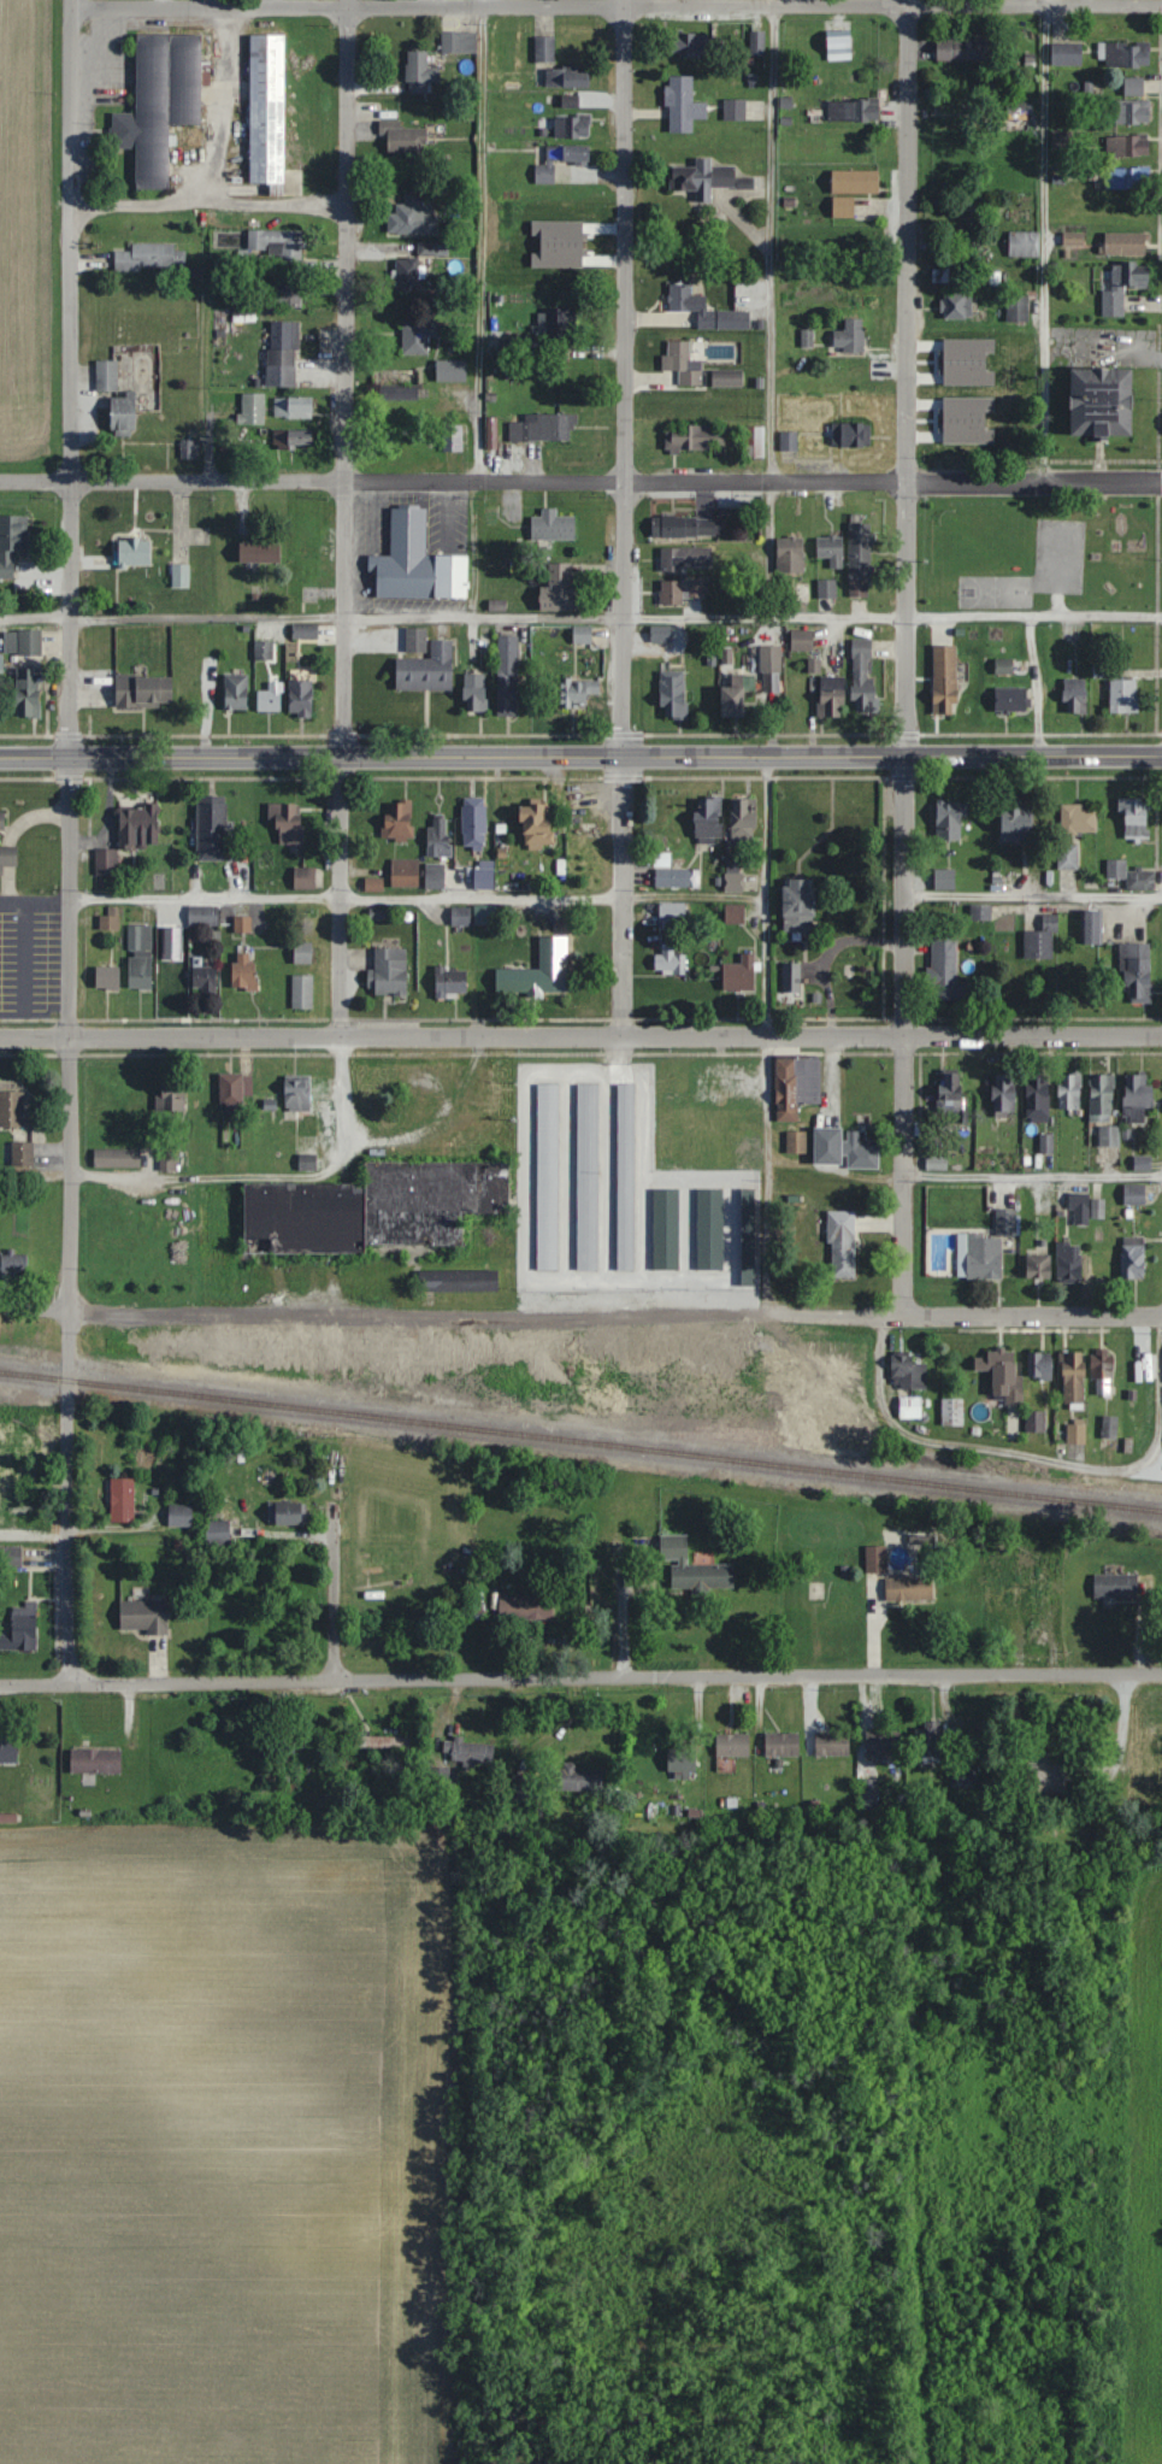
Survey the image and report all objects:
road: (210, 2)
road: (615, 6)
building: (459, 42)
building: (686, 43)
building: (544, 48)
building: (966, 49)
building: (1066, 54)
building: (1126, 54)
building: (419, 72)
building: (567, 78)
building: (1134, 87)
building: (571, 100)
building: (160, 102)
road: (220, 105)
building: (683, 105)
building: (267, 108)
building: (735, 110)
building: (853, 110)
building: (1132, 112)
building: (1018, 114)
building: (572, 127)
building: (403, 139)
building: (1061, 140)
building: (1127, 146)
building: (559, 161)
building: (706, 178)
building: (1127, 178)
building: (855, 181)
road: (208, 205)
building: (843, 207)
building: (412, 216)
building: (845, 236)
road: (480, 240)
road: (775, 241)
road: (1039, 241)
building: (1073, 241)
building: (278, 243)
building: (1024, 243)
building: (1125, 243)
building: (566, 249)
building: (152, 258)
building: (948, 272)
building: (407, 275)
building: (1122, 286)
building: (284, 292)
building: (686, 302)
building: (957, 306)
building: (1016, 308)
building: (560, 324)
building: (418, 336)
building: (850, 336)
building: (521, 346)
building: (722, 351)
building: (282, 353)
building: (683, 363)
building: (452, 371)
building: (106, 376)
road: (71, 377)
road: (346, 377)
road: (625, 377)
road: (908, 377)
building: (727, 380)
building: (399, 393)
building: (1102, 404)
building: (293, 407)
building: (253, 408)
building: (123, 417)
building: (962, 418)
building: (542, 428)
building: (851, 435)
building: (293, 439)
building: (694, 439)
building: (789, 440)
building: (754, 442)
building: (190, 449)
road: (580, 480)
building: (688, 527)
building: (553, 528)
building: (11, 542)
building: (307, 546)
road: (767, 549)
building: (831, 549)
building: (256, 552)
building: (132, 553)
building: (790, 555)
building: (686, 559)
building: (860, 560)
building: (417, 564)
building: (181, 576)
building: (827, 589)
building: (561, 593)
building: (671, 593)
road: (580, 616)
building: (305, 631)
building: (660, 634)
building: (582, 635)
building: (802, 640)
building: (415, 641)
building: (22, 643)
building: (1004, 666)
building: (426, 670)
building: (771, 670)
building: (1101, 670)
building: (507, 676)
building: (862, 676)
building: (945, 680)
road: (1037, 684)
building: (143, 692)
building: (236, 692)
building: (577, 692)
building: (28, 694)
building: (474, 694)
building: (673, 695)
building: (832, 696)
building: (1123, 696)
building: (301, 698)
building: (271, 699)
building: (1010, 699)
building: (732, 702)
building: (1077, 704)
road: (580, 755)
building: (708, 817)
building: (744, 817)
building: (1136, 817)
building: (399, 818)
building: (1079, 818)
building: (1, 819)
building: (950, 819)
building: (287, 821)
building: (1018, 821)
building: (537, 823)
building: (140, 825)
building: (474, 825)
building: (212, 830)
building: (438, 837)
building: (7, 855)
building: (1068, 855)
building: (106, 861)
building: (405, 872)
building: (672, 872)
building: (1131, 875)
building: (435, 876)
building: (305, 877)
building: (945, 877)
building: (484, 878)
building: (733, 882)
road: (623, 893)
road: (768, 894)
road: (342, 895)
road: (1033, 896)
road: (418, 898)
building: (798, 904)
road: (35, 905)
building: (672, 911)
building: (735, 913)
building: (204, 915)
building: (485, 915)
building: (460, 916)
building: (1093, 925)
building: (1042, 940)
building: (302, 952)
building: (140, 957)
road: (23, 959)
building: (670, 960)
building: (944, 966)
building: (243, 970)
building: (539, 970)
building: (1137, 970)
building: (390, 971)
building: (172, 972)
building: (107, 974)
building: (739, 974)
building: (205, 977)
building: (791, 977)
building: (450, 982)
building: (302, 990)
road: (580, 1033)
road: (907, 1035)
building: (795, 1084)
building: (231, 1090)
building: (1070, 1090)
building: (297, 1092)
building: (950, 1092)
building: (1004, 1092)
building: (1102, 1096)
building: (1137, 1096)
building: (1038, 1098)
building: (171, 1100)
building: (11, 1108)
building: (1109, 1135)
building: (796, 1141)
building: (845, 1147)
building: (22, 1153)
building: (117, 1157)
building: (167, 1159)
road: (1034, 1172)
building: (547, 1176)
building: (588, 1176)
building: (626, 1176)
road: (271, 1181)
building: (1134, 1193)
building: (376, 1207)
building: (1079, 1207)
road: (71, 1219)
building: (842, 1243)
building: (989, 1246)
building: (1132, 1255)
building: (13, 1260)
building: (1069, 1260)
building: (1039, 1265)
building: (458, 1280)
road: (580, 1322)
building: (1040, 1365)
building: (909, 1375)
building: (1001, 1375)
building: (1103, 1376)
building: (1073, 1377)
building: (909, 1406)
building: (952, 1411)
building: (1034, 1421)
building: (1109, 1425)
building: (1075, 1433)
railway: (580, 1439)
road: (1031, 1460)
building: (123, 1500)
building: (290, 1513)
building: (179, 1515)
building: (218, 1533)
building: (10, 1557)
building: (875, 1558)
building: (694, 1568)
building: (1115, 1586)
building: (909, 1588)
road: (334, 1603)
building: (525, 1606)
building: (143, 1617)
building: (22, 1628)
road: (580, 1676)
building: (384, 1741)
building: (832, 1742)
building: (883, 1742)
building: (927, 1742)
building: (781, 1743)
building: (732, 1745)
building: (1155, 1745)
building: (8, 1748)
building: (282, 1752)
building: (472, 1752)
building: (95, 1760)
building: (682, 1760)
building: (1045, 1772)
building: (963, 1776)
building: (577, 1777)
building: (443, 1778)
building: (523, 1786)
building: (1146, 1788)

